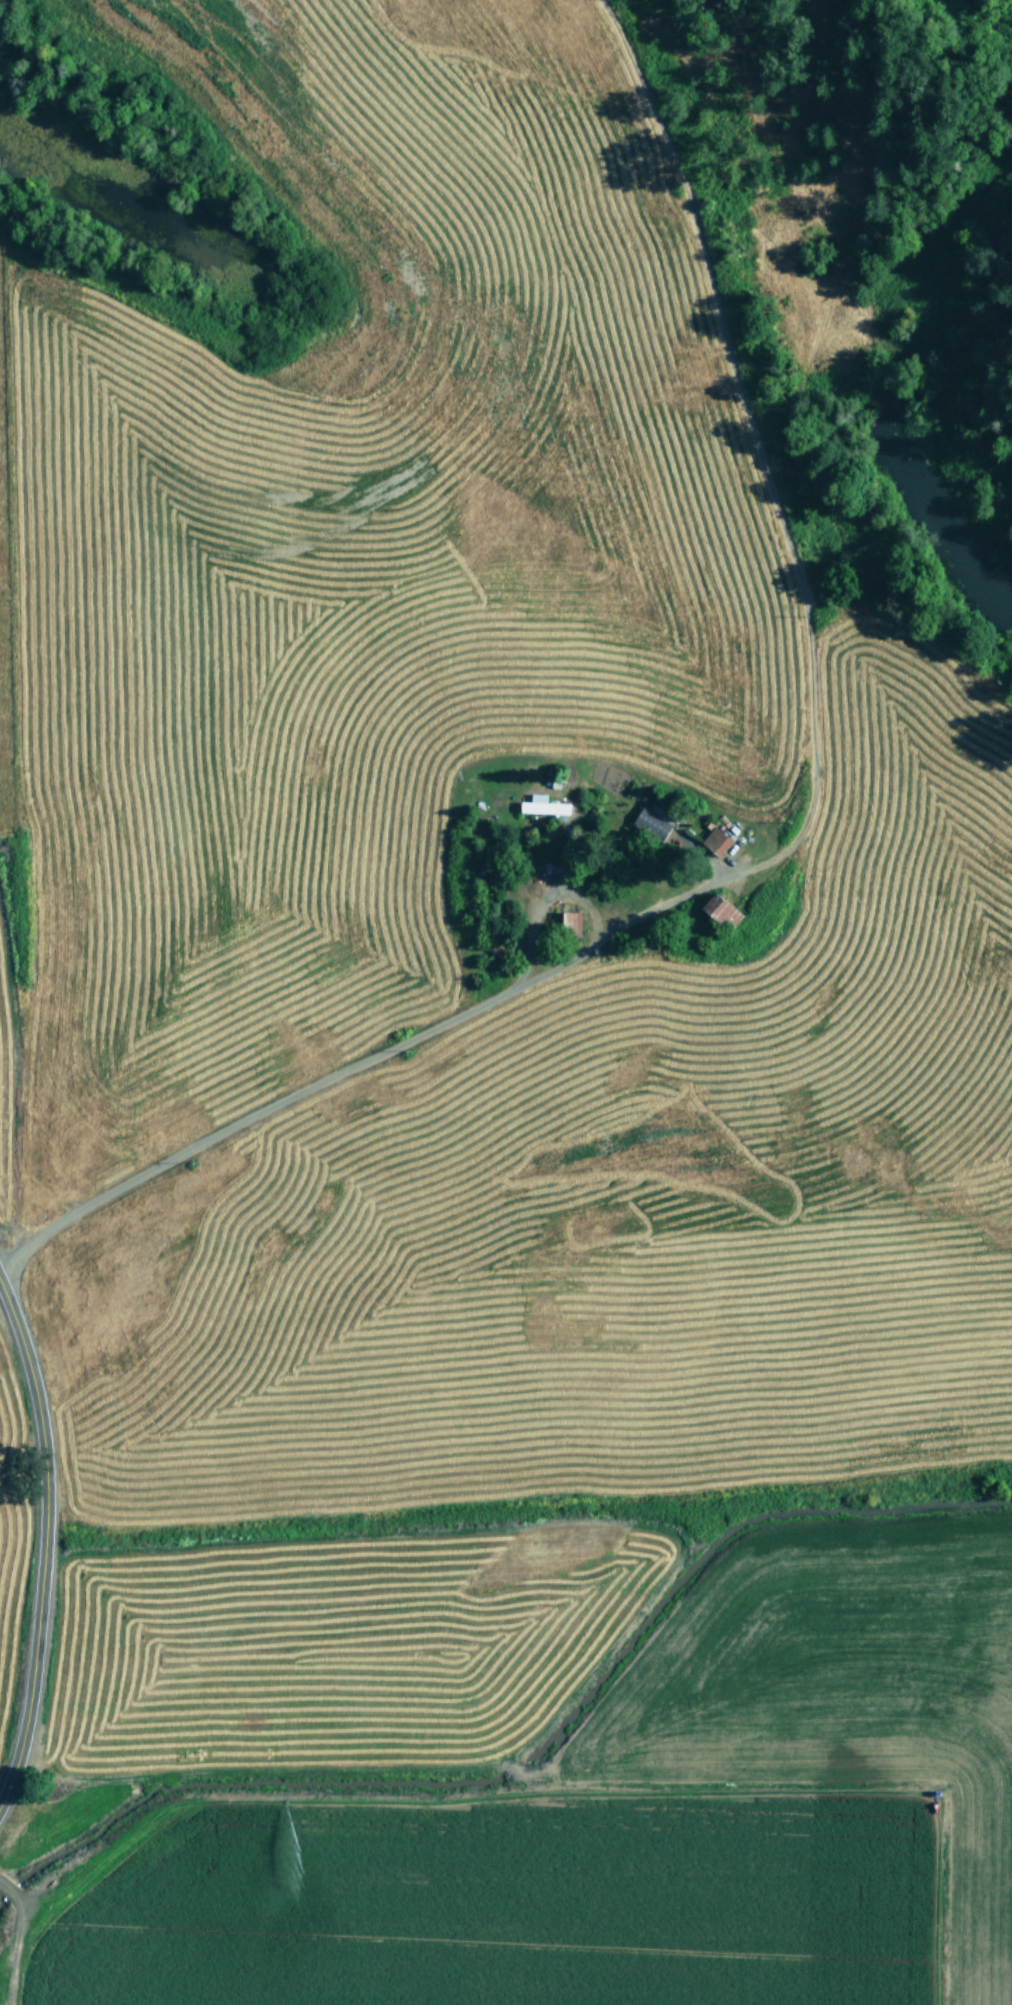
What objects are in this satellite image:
building: (541, 805)
building: (650, 824)
building: (714, 841)
building: (719, 911)
building: (570, 923)
crop: (472, 1072)
road: (335, 1080)
road: (44, 1539)

